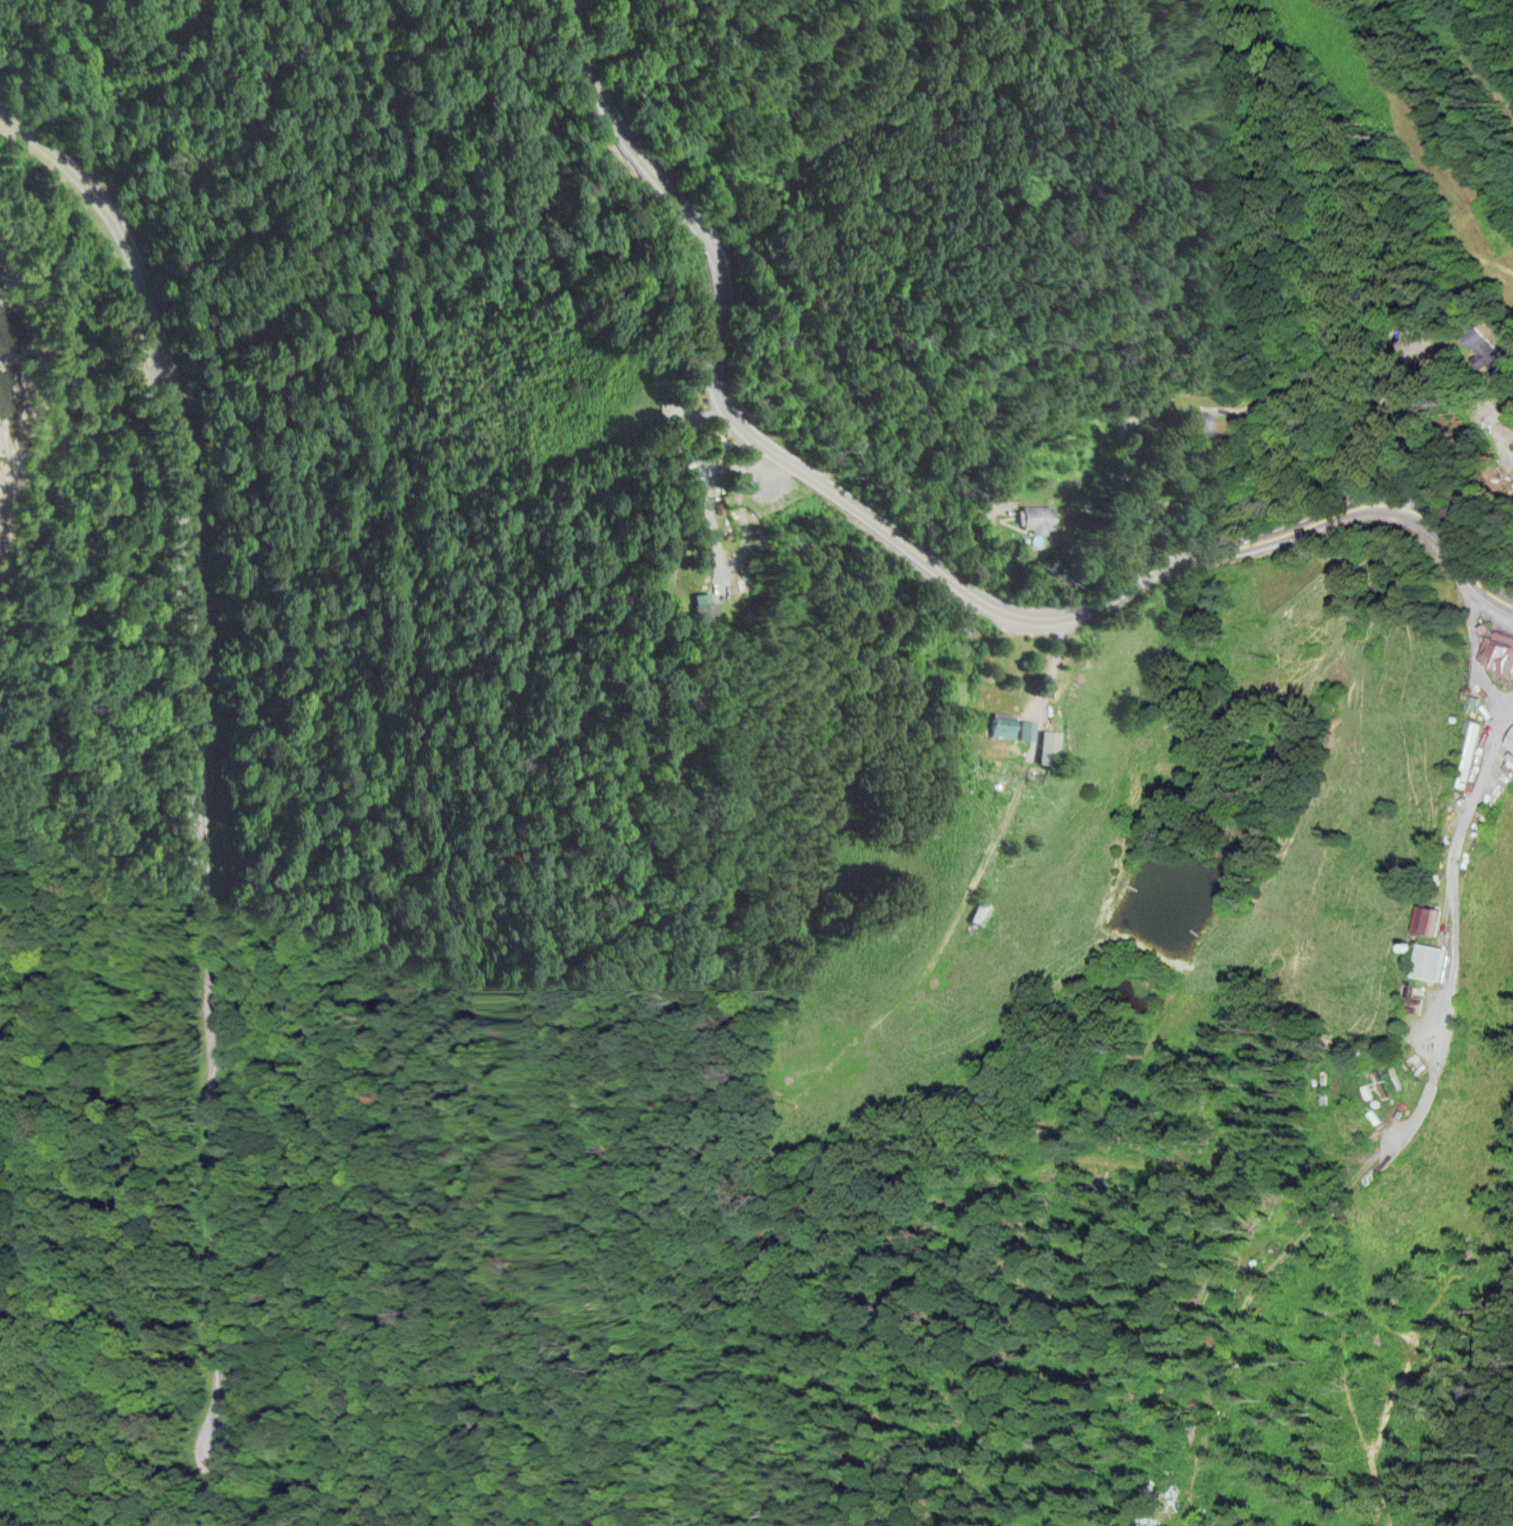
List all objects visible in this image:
building: (1201, 424)
road: (1114, 480)
building: (1037, 518)
road: (910, 550)
building: (1499, 650)
building: (1013, 727)
building: (1512, 742)
building: (1049, 746)
building: (1467, 753)
road: (200, 785)
road: (1455, 873)
building: (980, 914)
building: (1430, 920)
building: (1433, 961)

